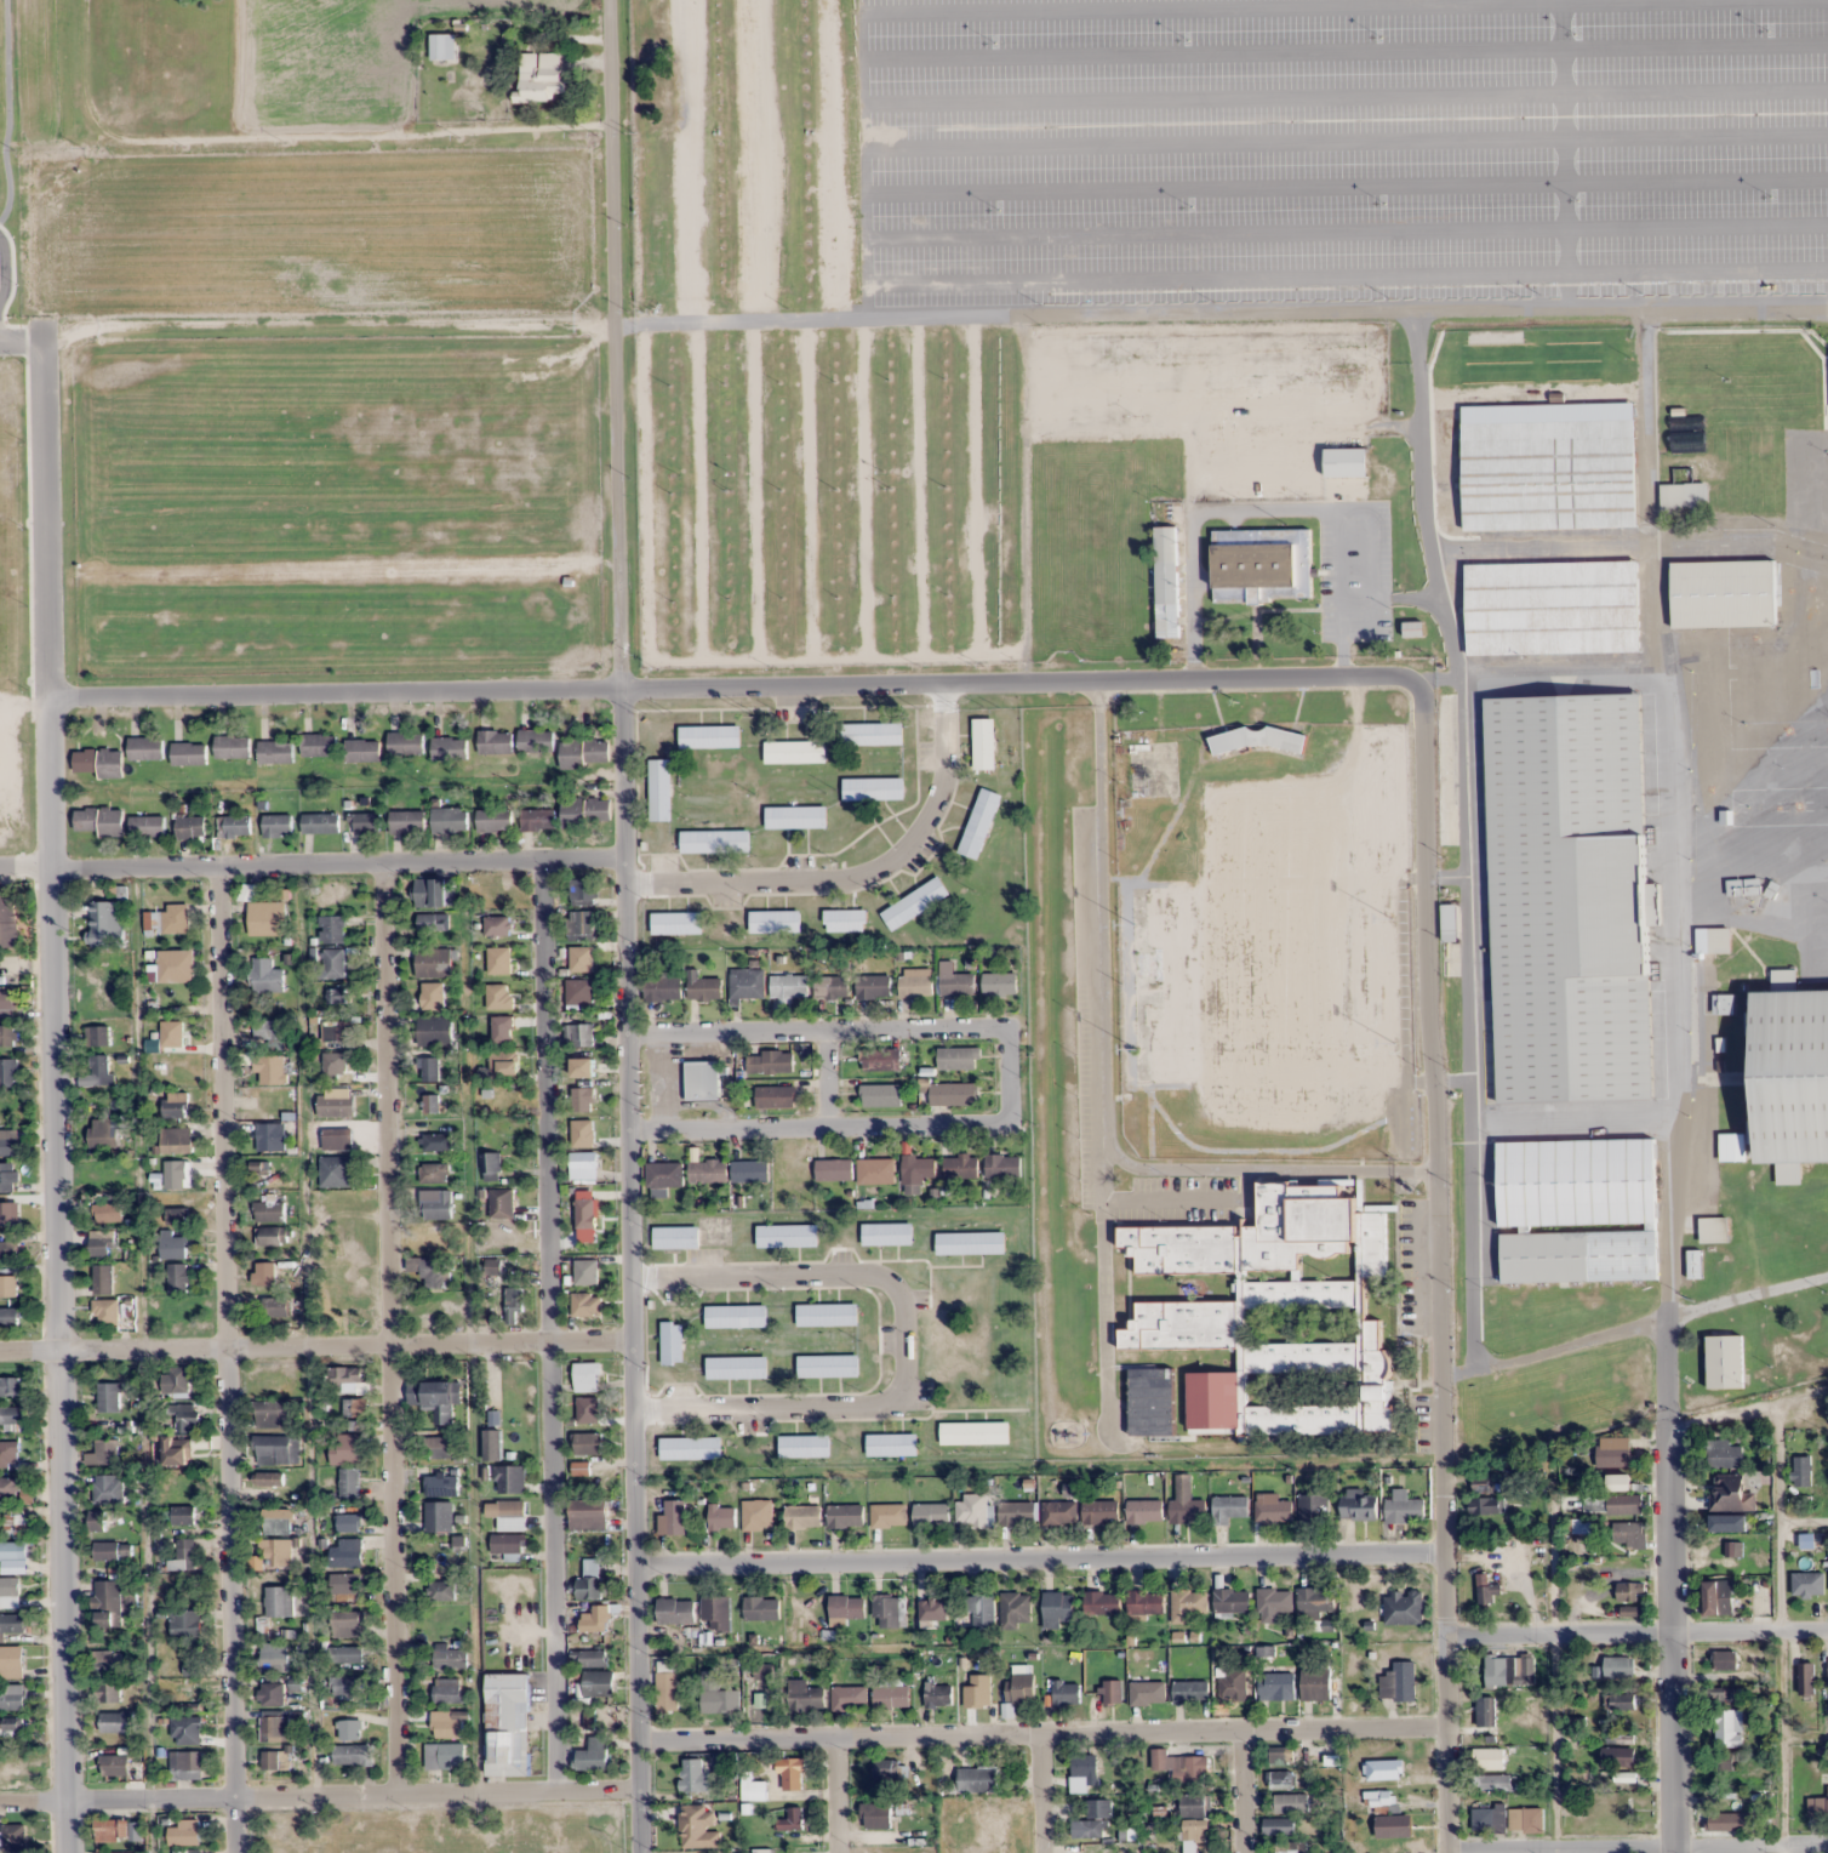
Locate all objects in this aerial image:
building: (475, 51)
building: (541, 78)
road: (1234, 303)
road: (53, 400)
building: (1346, 462)
building: (1549, 474)
building: (1684, 497)
building: (1262, 564)
road: (57, 571)
building: (1166, 582)
building: (1723, 593)
building: (1552, 608)
building: (1413, 629)
road: (743, 690)
building: (874, 734)
building: (709, 737)
building: (536, 741)
building: (495, 742)
building: (406, 743)
building: (983, 743)
building: (319, 746)
building: (232, 747)
building: (145, 748)
building: (450, 749)
building: (362, 751)
building: (794, 751)
building: (275, 753)
building: (582, 753)
building: (188, 754)
building: (98, 763)
road: (52, 785)
building: (659, 789)
building: (873, 789)
building: (585, 813)
building: (795, 817)
building: (450, 820)
building: (538, 820)
building: (101, 821)
building: (495, 821)
building: (407, 822)
building: (979, 822)
building: (320, 823)
building: (367, 823)
building: (278, 826)
building: (147, 827)
building: (190, 827)
building: (234, 827)
road: (1466, 834)
building: (714, 842)
road: (312, 863)
road: (856, 879)
building: (583, 890)
building: (434, 893)
building: (1569, 897)
building: (914, 902)
building: (7, 916)
building: (267, 918)
building: (168, 920)
building: (844, 920)
building: (773, 922)
building: (105, 923)
building: (430, 923)
building: (675, 923)
building: (499, 924)
building: (581, 925)
road: (625, 926)
building: (332, 929)
building: (1161, 952)
building: (501, 958)
building: (579, 958)
building: (335, 963)
building: (433, 963)
building: (176, 965)
building: (267, 976)
building: (958, 983)
building: (999, 983)
building: (747, 985)
building: (789, 986)
building: (830, 986)
building: (873, 986)
building: (915, 986)
building: (662, 987)
building: (703, 987)
building: (579, 992)
building: (501, 994)
building: (104, 997)
building: (337, 997)
building: (432, 997)
building: (6, 1003)
building: (267, 1030)
building: (181, 1031)
building: (336, 1031)
building: (434, 1031)
building: (8, 1034)
building: (578, 1034)
building: (97, 1036)
building: (956, 1057)
building: (872, 1059)
building: (502, 1061)
building: (769, 1061)
building: (578, 1064)
building: (337, 1067)
building: (429, 1067)
building: (270, 1068)
building: (98, 1072)
building: (8, 1073)
building: (1790, 1074)
road: (1007, 1076)
building: (703, 1081)
road: (826, 1081)
building: (952, 1093)
building: (880, 1094)
building: (775, 1096)
building: (582, 1099)
building: (336, 1102)
building: (430, 1102)
building: (176, 1105)
building: (585, 1131)
building: (103, 1133)
building: (270, 1136)
building: (176, 1140)
building: (436, 1141)
building: (8, 1142)
building: (491, 1165)
building: (583, 1165)
building: (960, 1165)
building: (1002, 1165)
building: (919, 1168)
building: (833, 1169)
building: (749, 1170)
building: (875, 1170)
building: (337, 1171)
building: (707, 1171)
building: (434, 1173)
building: (175, 1174)
building: (664, 1174)
building: (8, 1178)
building: (501, 1203)
building: (435, 1204)
building: (1577, 1209)
building: (578, 1210)
building: (269, 1211)
building: (108, 1213)
building: (175, 1215)
building: (1714, 1228)
building: (886, 1233)
building: (787, 1235)
building: (273, 1236)
building: (675, 1236)
building: (970, 1242)
building: (99, 1243)
building: (172, 1245)
building: (7, 1248)
building: (1695, 1264)
road: (1441, 1265)
building: (432, 1271)
building: (267, 1272)
building: (587, 1273)
building: (177, 1277)
building: (341, 1281)
building: (7, 1285)
building: (104, 1293)
building: (512, 1304)
building: (587, 1305)
building: (276, 1306)
building: (827, 1313)
building: (1276, 1313)
building: (736, 1315)
building: (8, 1316)
road: (1634, 1323)
road: (547, 1325)
road: (389, 1328)
road: (901, 1340)
building: (672, 1341)
road: (315, 1347)
road: (57, 1358)
road: (234, 1358)
building: (1724, 1361)
building: (827, 1365)
building: (736, 1367)
building: (587, 1374)
building: (344, 1375)
building: (176, 1382)
building: (265, 1384)
building: (10, 1385)
building: (1163, 1395)
building: (109, 1397)
building: (435, 1397)
building: (353, 1408)
road: (1741, 1409)
building: (588, 1410)
building: (273, 1414)
building: (12, 1415)
building: (185, 1416)
building: (1164, 1420)
building: (973, 1432)
building: (588, 1443)
building: (492, 1444)
building: (890, 1444)
building: (804, 1446)
building: (440, 1447)
building: (690, 1447)
building: (345, 1448)
building: (12, 1449)
building: (276, 1449)
building: (177, 1452)
building: (104, 1453)
building: (1613, 1453)
building: (1724, 1454)
building: (1801, 1471)
building: (512, 1478)
building: (1620, 1482)
building: (349, 1483)
building: (12, 1484)
building: (441, 1484)
building: (1489, 1484)
building: (177, 1488)
building: (108, 1489)
building: (1727, 1495)
building: (1186, 1503)
building: (1358, 1505)
building: (1486, 1505)
building: (1611, 1505)
building: (1313, 1506)
building: (1404, 1507)
building: (972, 1509)
building: (1228, 1509)
building: (1275, 1509)
building: (1144, 1510)
building: (1016, 1512)
building: (1058, 1512)
building: (1102, 1512)
road: (1776, 1512)
building: (587, 1513)
building: (756, 1513)
building: (931, 1513)
building: (510, 1515)
building: (889, 1515)
building: (182, 1516)
building: (439, 1516)
building: (721, 1516)
building: (802, 1516)
building: (845, 1516)
building: (672, 1517)
building: (97, 1521)
building: (278, 1521)
building: (348, 1522)
building: (15, 1523)
building: (1729, 1523)
building: (1629, 1534)
building: (507, 1544)
building: (11, 1551)
building: (112, 1551)
building: (276, 1552)
building: (185, 1553)
building: (348, 1553)
road: (1040, 1562)
building: (589, 1579)
road: (1672, 1583)
building: (345, 1584)
building: (441, 1590)
building: (1489, 1590)
building: (1630, 1591)
building: (8, 1592)
building: (1718, 1597)
building: (1230, 1600)
building: (1315, 1600)
building: (280, 1601)
building: (1189, 1601)
building: (1102, 1602)
building: (1146, 1602)
building: (108, 1603)
building: (1273, 1603)
building: (846, 1607)
building: (1403, 1607)
building: (761, 1608)
building: (1058, 1608)
building: (890, 1609)
building: (1015, 1609)
building: (675, 1610)
building: (982, 1610)
building: (1633, 1610)
building: (716, 1612)
building: (595, 1619)
building: (185, 1624)
building: (348, 1624)
building: (12, 1625)
road: (1636, 1629)
building: (345, 1654)
building: (274, 1657)
building: (450, 1657)
building: (11, 1658)
building: (593, 1658)
building: (1725, 1659)
building: (1618, 1666)
building: (1509, 1670)
building: (1827, 1674)
building: (1806, 1678)
building: (1399, 1681)
building: (598, 1683)
building: (1315, 1683)
building: (1233, 1684)
building: (345, 1686)
building: (1276, 1686)
building: (1019, 1688)
building: (446, 1690)
building: (667, 1690)
building: (977, 1690)
building: (1112, 1692)
building: (1189, 1692)
building: (1066, 1693)
building: (1147, 1693)
building: (108, 1694)
building: (938, 1694)
building: (272, 1695)
building: (716, 1695)
building: (805, 1695)
building: (891, 1695)
building: (12, 1698)
building: (850, 1698)
building: (1718, 1698)
building: (1621, 1700)
building: (1485, 1711)
building: (115, 1722)
building: (10, 1724)
building: (269, 1724)
building: (507, 1724)
building: (449, 1728)
building: (1727, 1728)
building: (350, 1729)
building: (185, 1731)
road: (1040, 1733)
building: (349, 1755)
building: (593, 1755)
building: (1276, 1755)
building: (444, 1756)
building: (1618, 1756)
building: (1159, 1758)
building: (1487, 1758)
building: (275, 1761)
building: (1724, 1761)
building: (185, 1763)
building: (114, 1764)
building: (1085, 1767)
building: (1190, 1767)
building: (1379, 1769)
building: (790, 1774)
building: (695, 1775)
building: (978, 1779)
building: (1281, 1779)
building: (1493, 1783)
building: (754, 1789)
road: (1240, 1790)
road: (1040, 1794)
road: (318, 1795)
road: (835, 1795)
building: (1730, 1797)
building: (1381, 1800)
building: (1291, 1803)
building: (1193, 1804)
building: (1817, 1807)
building: (875, 1815)
building: (792, 1819)
building: (1093, 1820)
building: (1487, 1820)
building: (1525, 1820)
building: (1725, 1821)
building: (1279, 1826)
building: (1393, 1826)
building: (696, 1828)
building: (112, 1830)
building: (185, 1832)
building: (1198, 1832)
building: (13, 1838)
road: (1636, 1846)
building: (1289, 1847)
building: (189, 1851)
building: (761, 1851)

